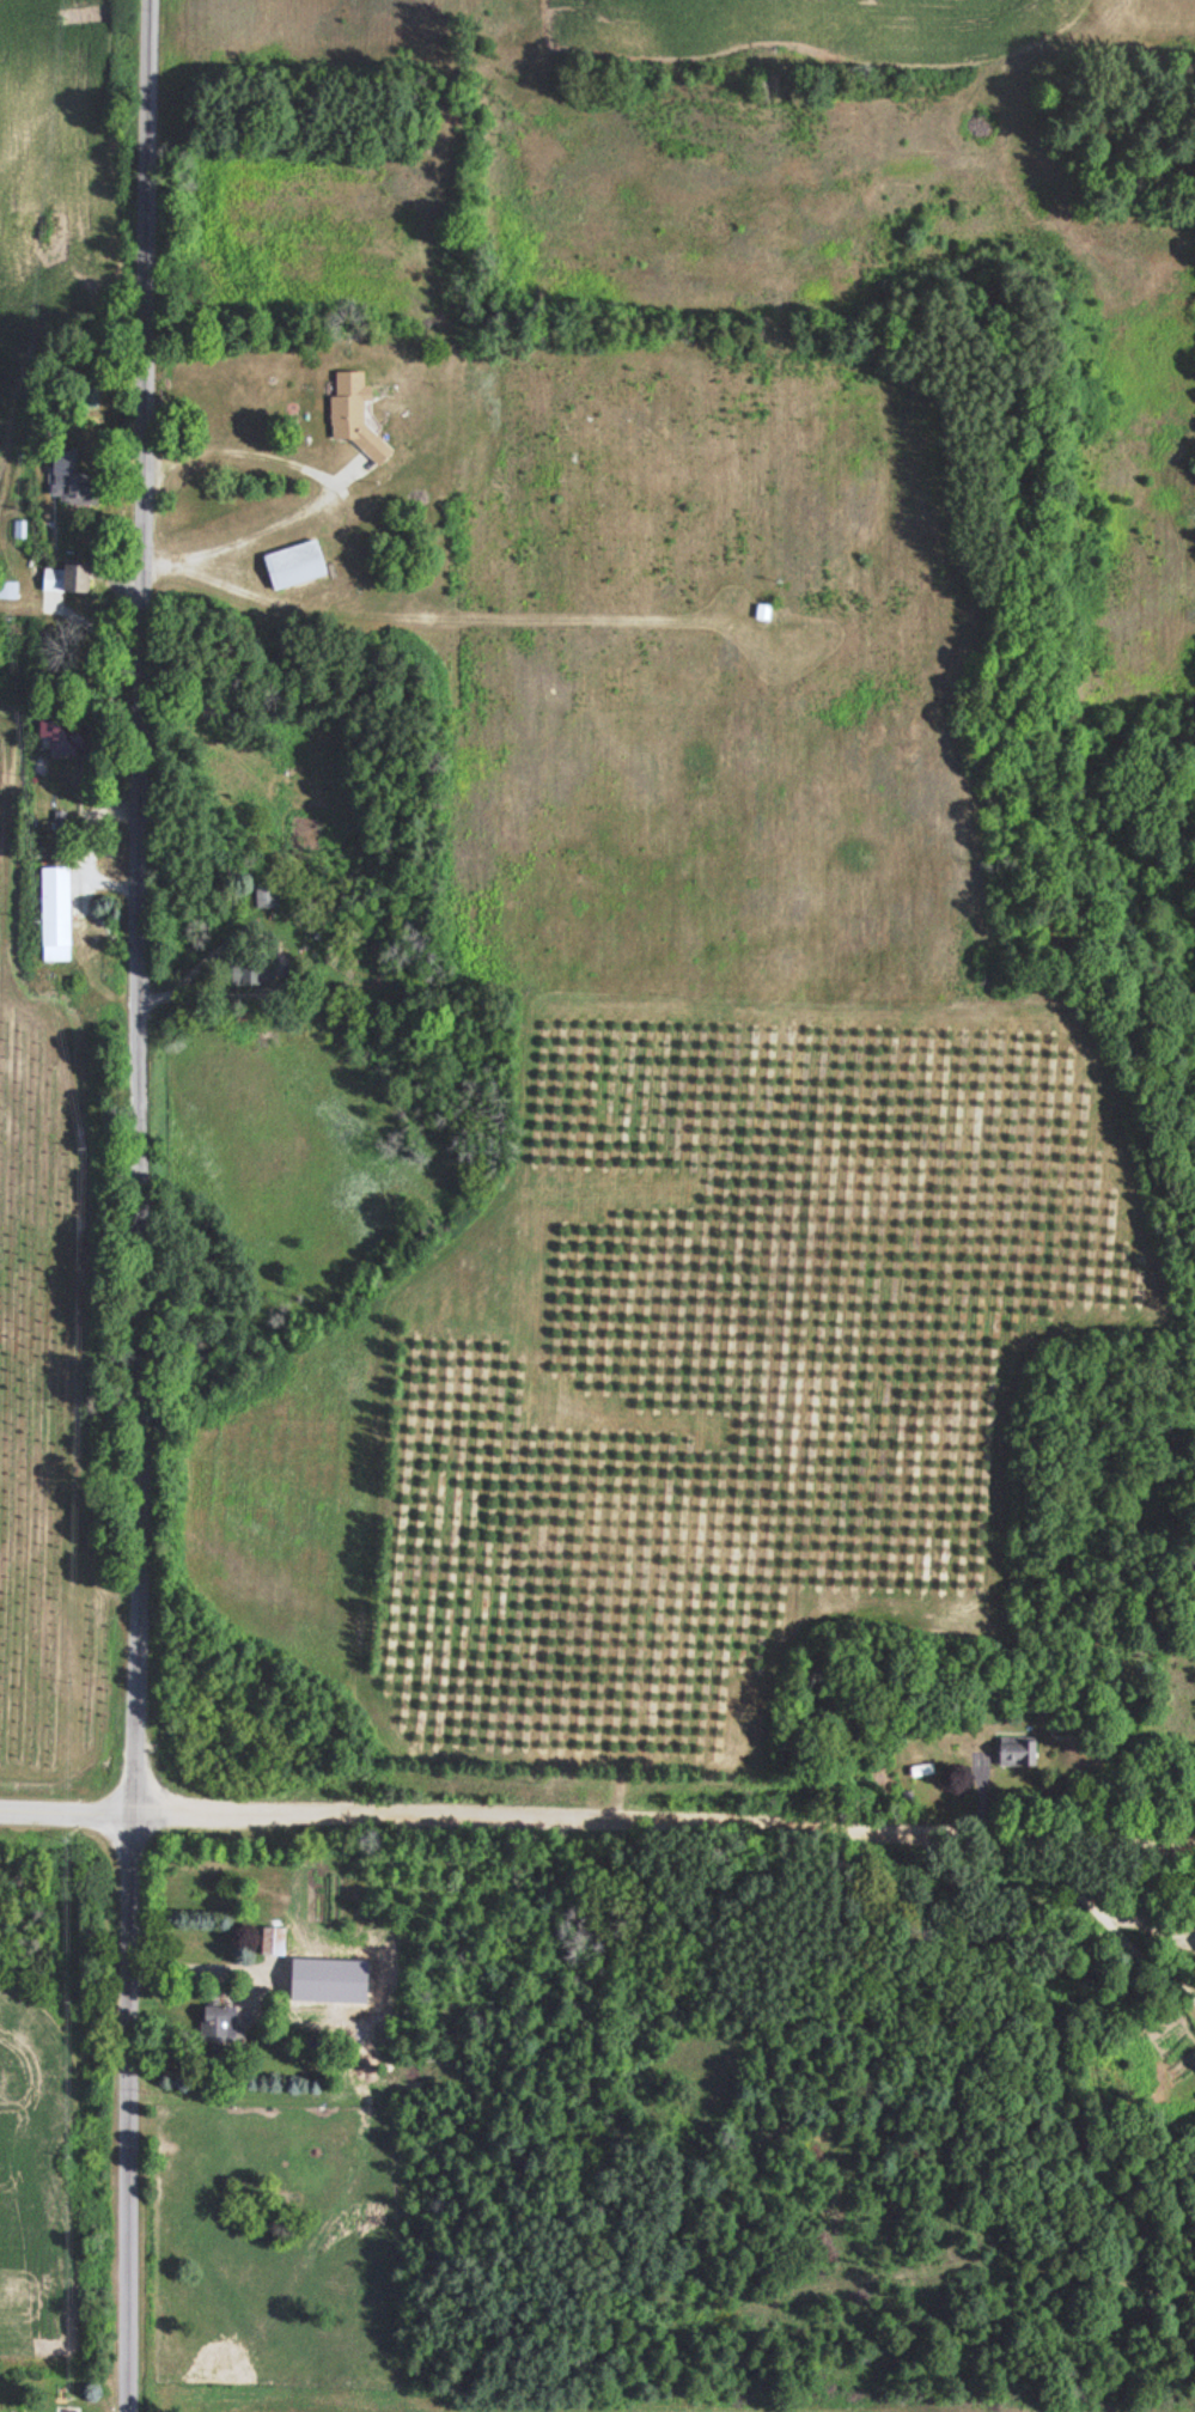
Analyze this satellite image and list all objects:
building: (352, 415)
building: (73, 494)
building: (292, 565)
building: (77, 579)
building: (49, 581)
building: (8, 591)
building: (761, 613)
building: (53, 915)
building: (237, 974)
road: (146, 1206)
building: (1014, 1752)
road: (597, 1805)
building: (272, 1942)
building: (217, 2024)

